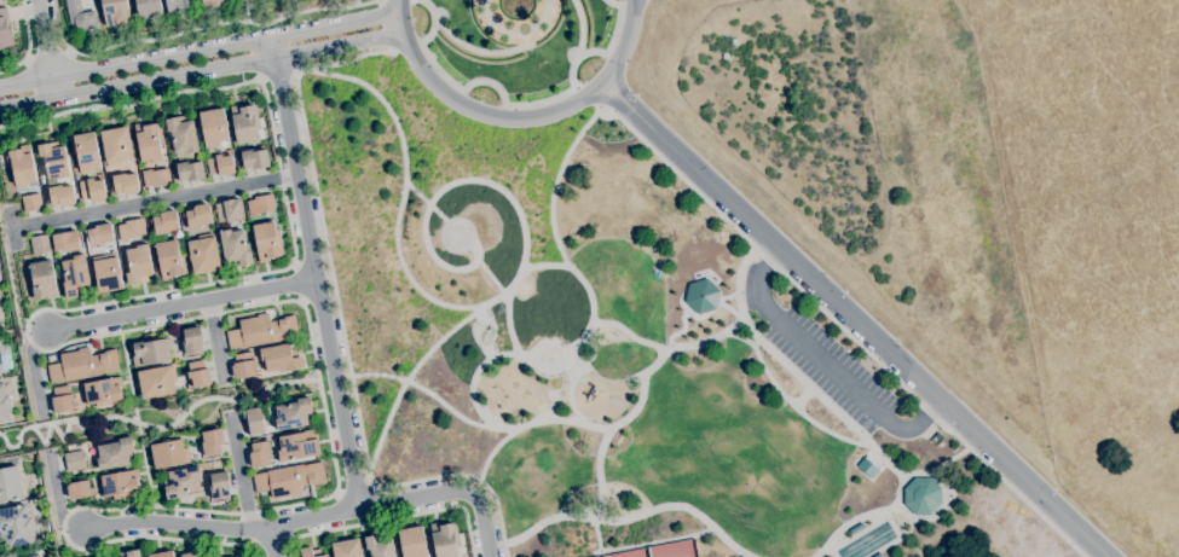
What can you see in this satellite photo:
building: (1, 0)
building: (241, 1)
building: (213, 2)
building: (177, 6)
building: (148, 8)
building: (115, 12)
building: (80, 16)
road: (387, 24)
road: (553, 25)
road: (583, 28)
building: (5, 30)
road: (198, 30)
road: (495, 33)
park: (507, 37)
road: (28, 45)
road: (46, 50)
road: (478, 51)
road: (47, 53)
road: (200, 53)
road: (201, 72)
road: (278, 72)
road: (381, 97)
road: (519, 103)
road: (515, 117)
building: (244, 124)
building: (213, 127)
building: (181, 135)
building: (148, 143)
building: (116, 146)
building: (85, 152)
building: (254, 159)
building: (53, 161)
building: (21, 166)
building: (220, 166)
building: (190, 172)
building: (156, 178)
road: (559, 182)
building: (125, 184)
building: (92, 190)
building: (62, 196)
road: (151, 201)
building: (31, 203)
building: (260, 205)
building: (229, 210)
building: (198, 216)
building: (166, 222)
road: (7, 228)
building: (131, 230)
building: (99, 236)
building: (65, 242)
building: (266, 242)
building: (40, 245)
building: (235, 248)
building: (203, 254)
road: (403, 256)
building: (169, 260)
building: (138, 265)
road: (467, 267)
building: (106, 273)
building: (75, 275)
road: (313, 275)
building: (42, 280)
road: (138, 296)
building: (700, 296)
road: (493, 300)
road: (179, 307)
road: (850, 320)
building: (0, 321)
road: (341, 324)
road: (844, 329)
building: (261, 331)
road: (710, 340)
road: (742, 340)
building: (192, 341)
road: (215, 341)
building: (150, 352)
park: (613, 352)
road: (567, 354)
building: (281, 358)
building: (5, 365)
building: (82, 365)
building: (243, 365)
road: (828, 365)
road: (791, 366)
building: (0, 371)
parking lot: (832, 371)
building: (198, 373)
building: (157, 381)
road: (476, 383)
road: (785, 390)
building: (103, 391)
building: (62, 400)
building: (4, 405)
road: (135, 412)
building: (294, 414)
road: (843, 416)
road: (555, 419)
building: (254, 422)
road: (137, 424)
building: (212, 441)
building: (297, 446)
building: (115, 453)
building: (169, 453)
building: (260, 454)
road: (953, 459)
building: (75, 460)
building: (867, 469)
road: (241, 474)
building: (289, 480)
building: (183, 482)
building: (120, 483)
building: (10, 485)
building: (220, 486)
road: (947, 486)
road: (357, 488)
building: (80, 489)
road: (602, 489)
building: (924, 498)
road: (369, 507)
road: (88, 510)
road: (393, 520)
road: (626, 520)
road: (853, 522)
road: (484, 523)
road: (174, 524)
building: (16, 526)
building: (445, 540)
road: (659, 541)
road: (271, 543)
building: (412, 543)
building: (871, 543)
building: (380, 547)
building: (347, 549)
building: (311, 552)
park: (669, 552)
building: (129, 553)
building: (10, 555)
building: (162, 555)
building: (187, 555)
building: (30, 556)
building: (35, 556)
building: (198, 556)

